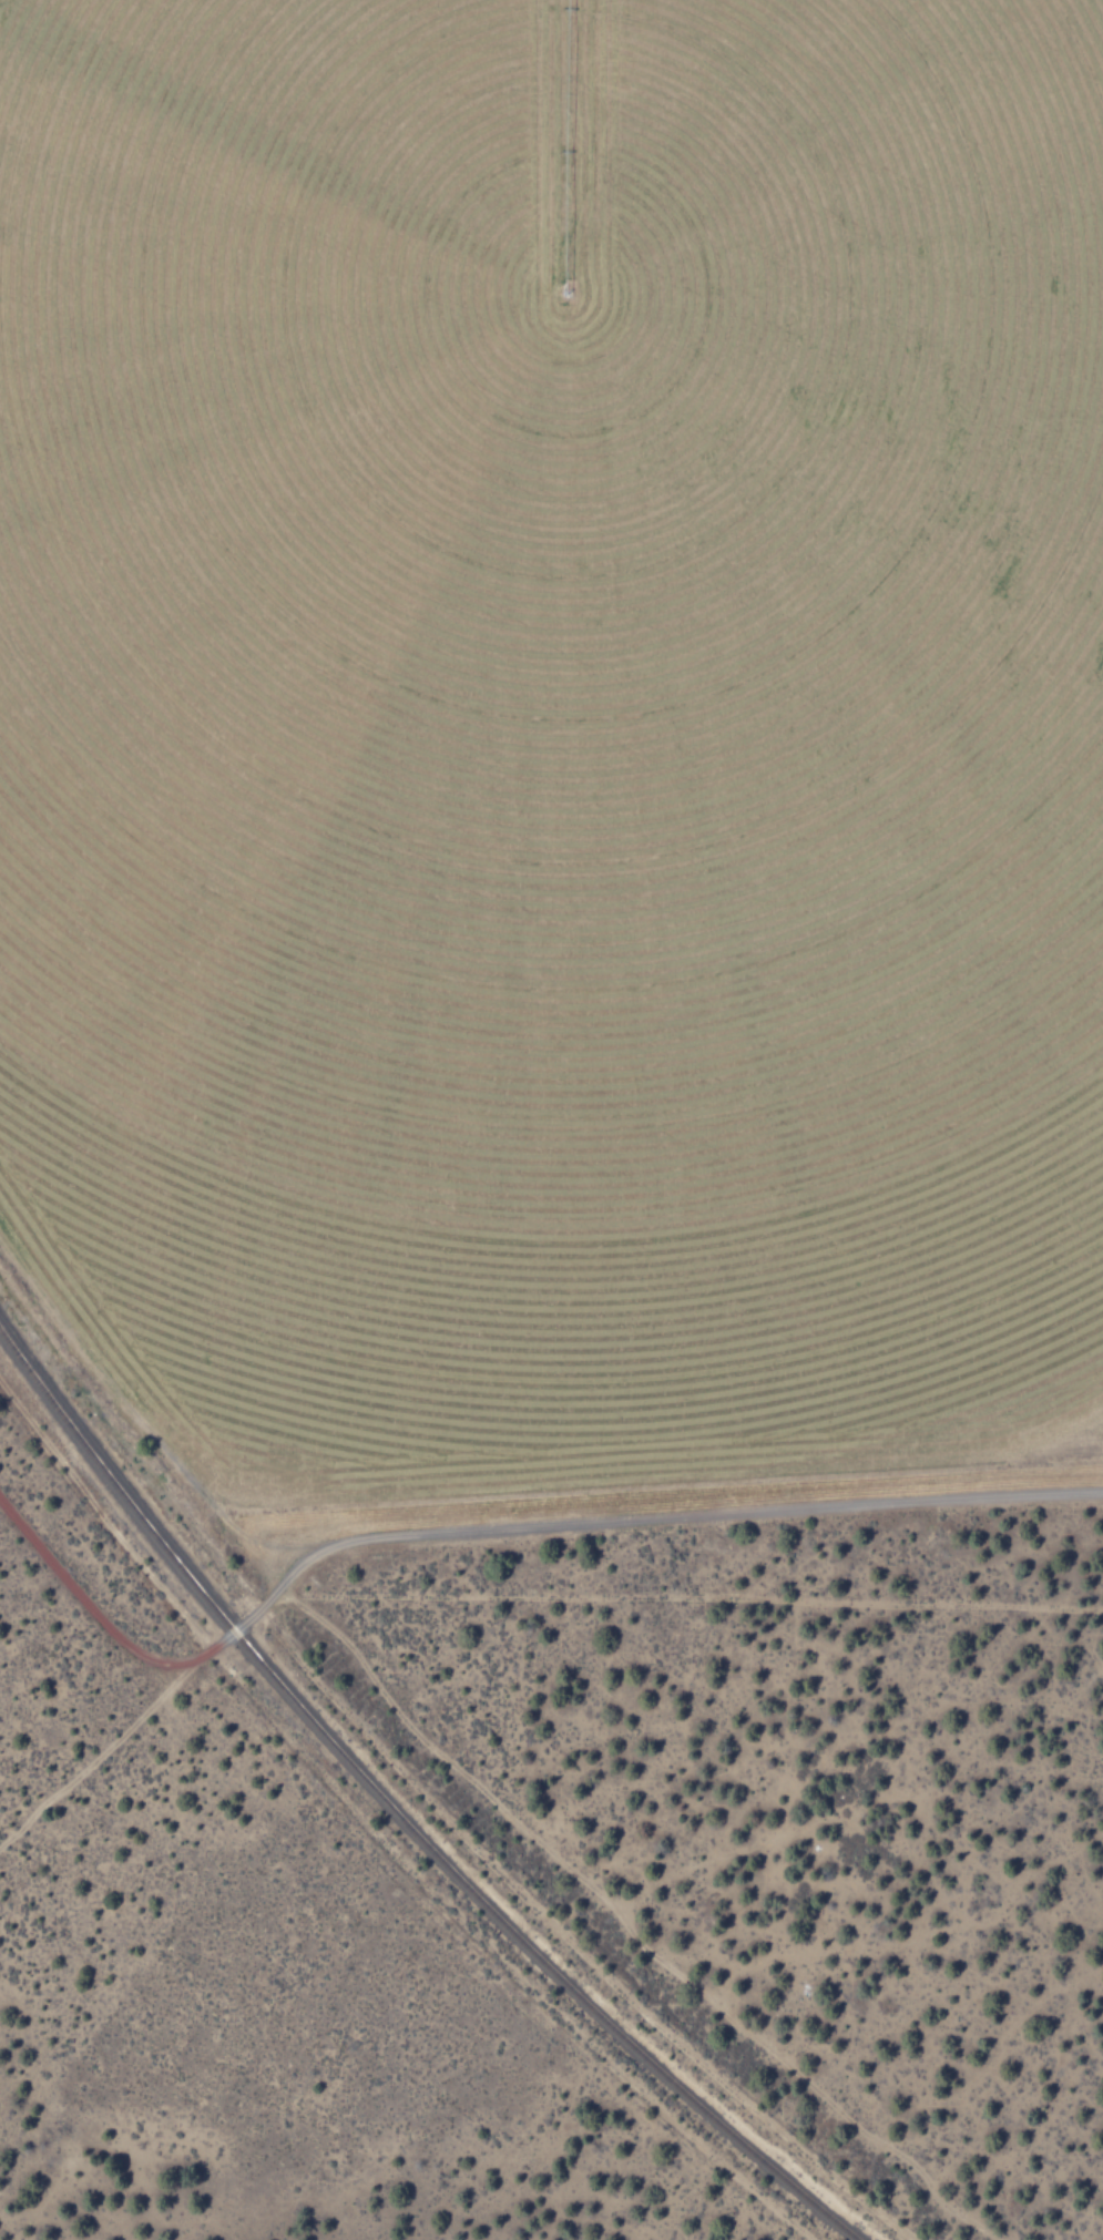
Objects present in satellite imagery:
crop: (558, 730)
road: (510, 1793)
railway: (396, 1815)

